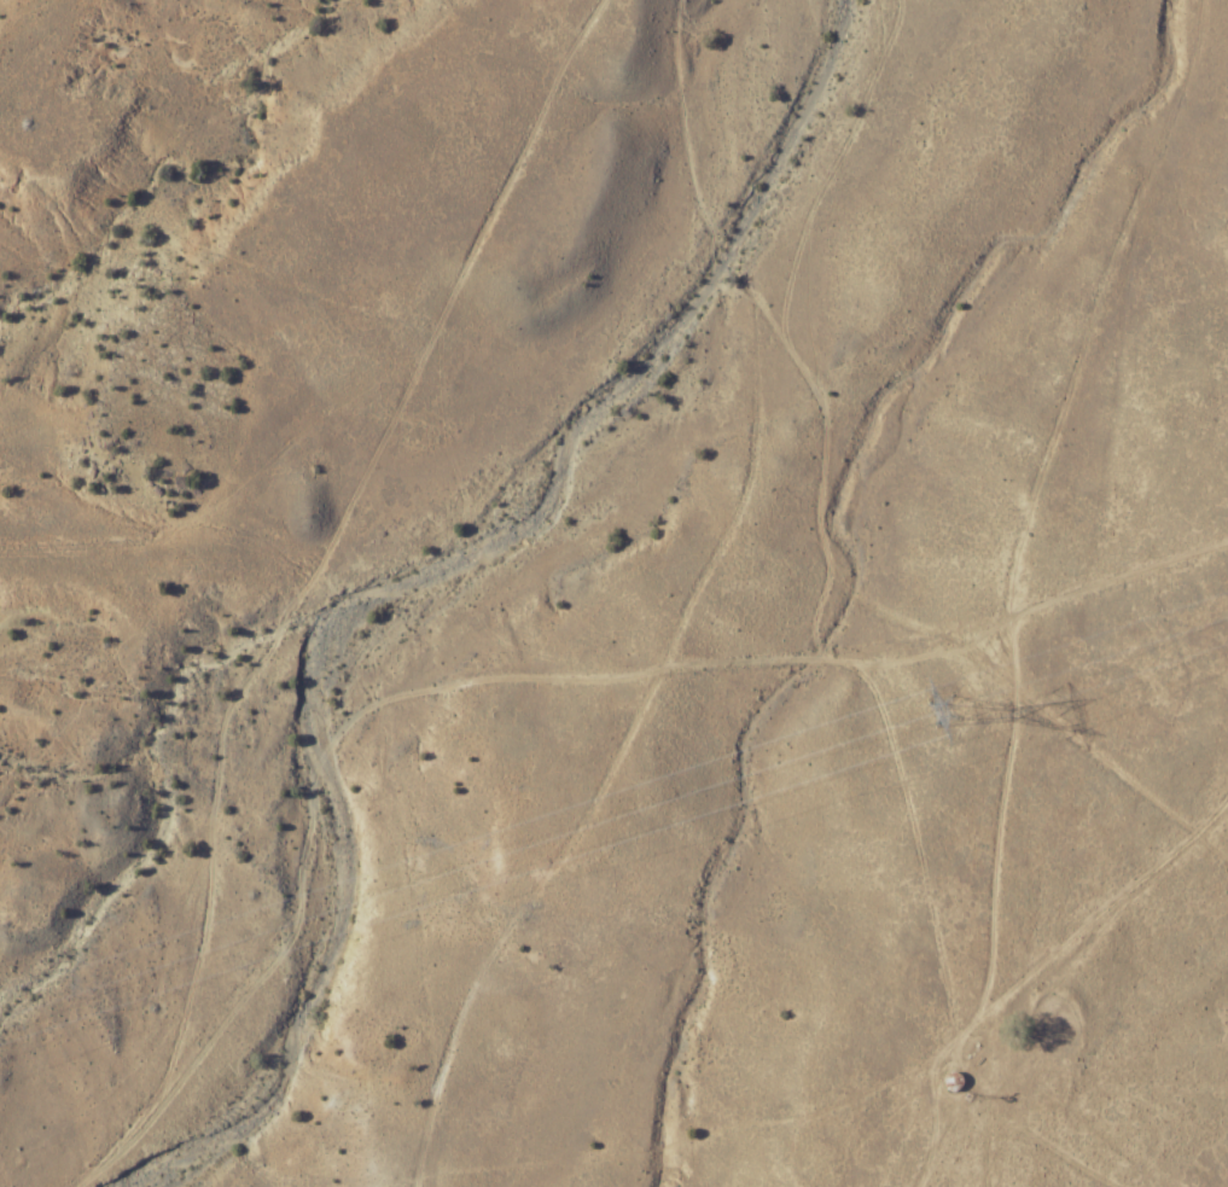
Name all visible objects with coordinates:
road: (720, 338)
road: (1044, 466)
road: (1112, 562)
road: (965, 565)
river: (436, 574)
road: (283, 580)
power tower: (966, 703)
road: (313, 786)
road: (506, 925)
road: (933, 1069)
road: (1072, 1162)

